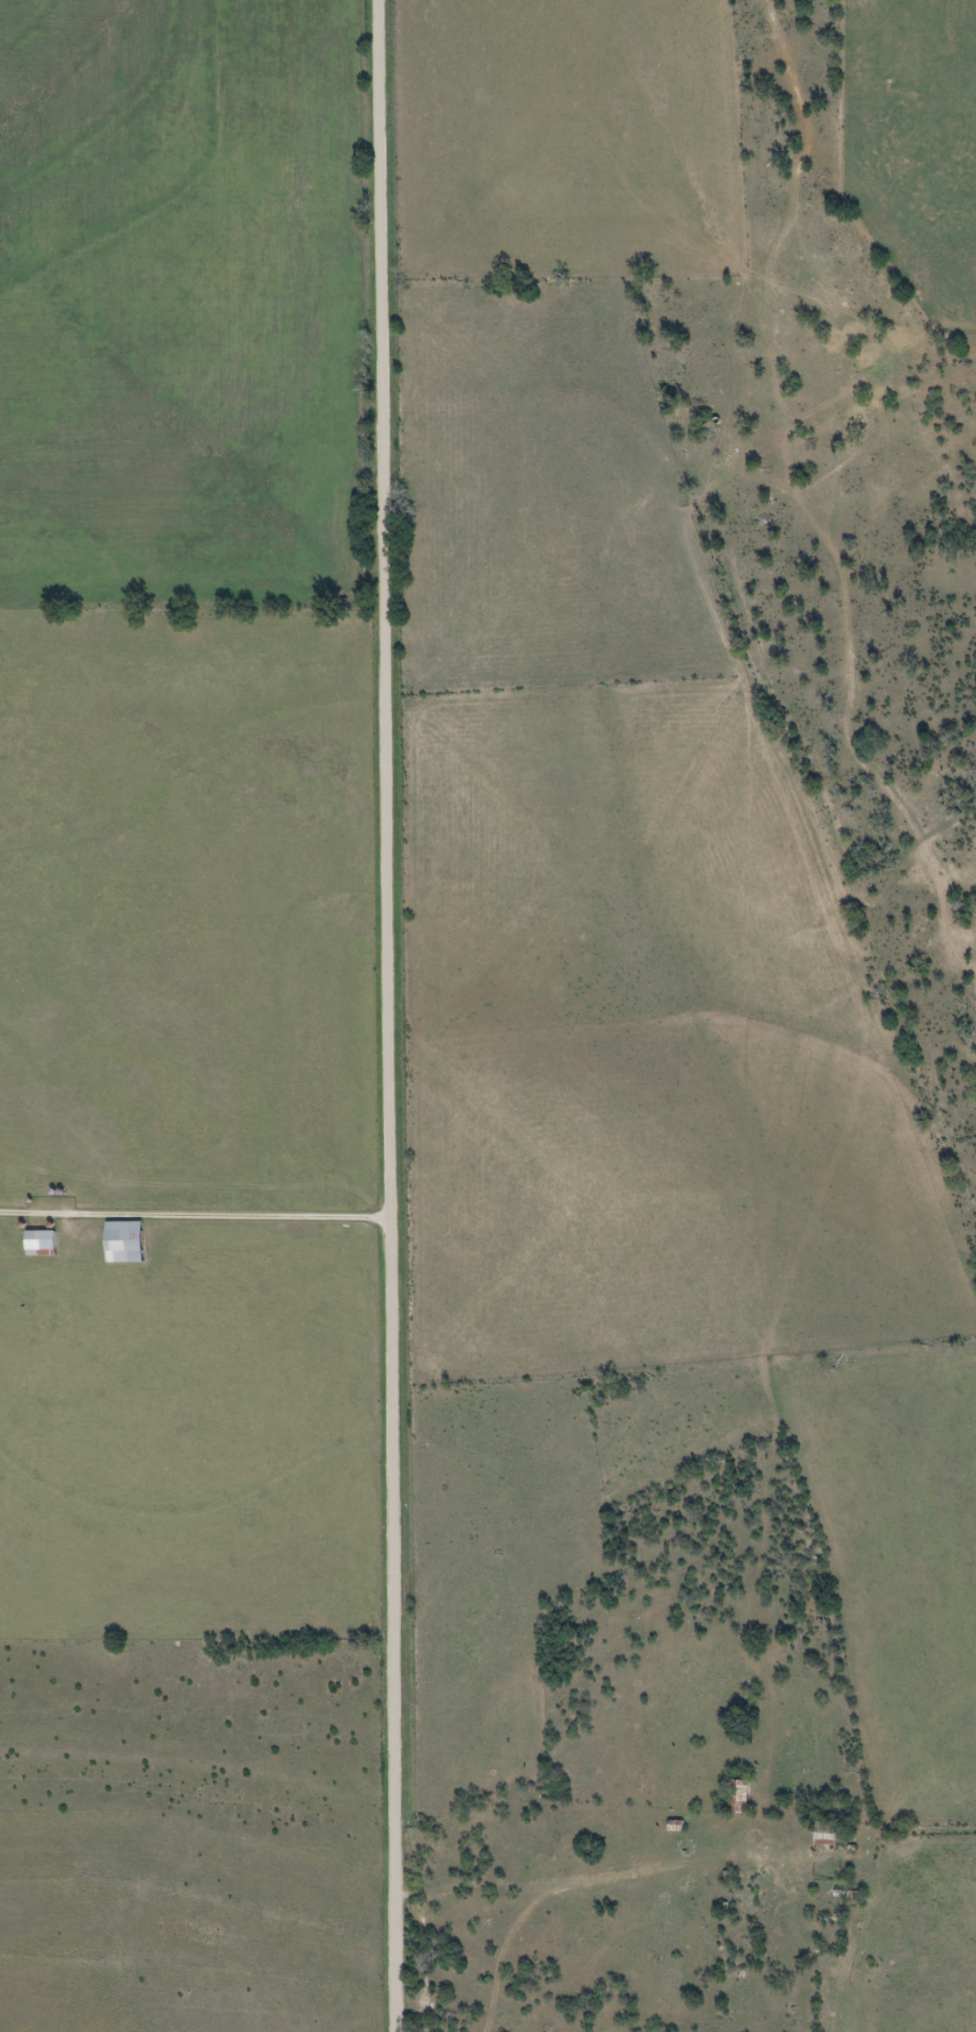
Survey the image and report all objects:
road: (385, 1016)
road: (193, 1212)
building: (125, 1242)
building: (41, 1244)
building: (739, 1798)
building: (677, 1828)
building: (825, 1835)

